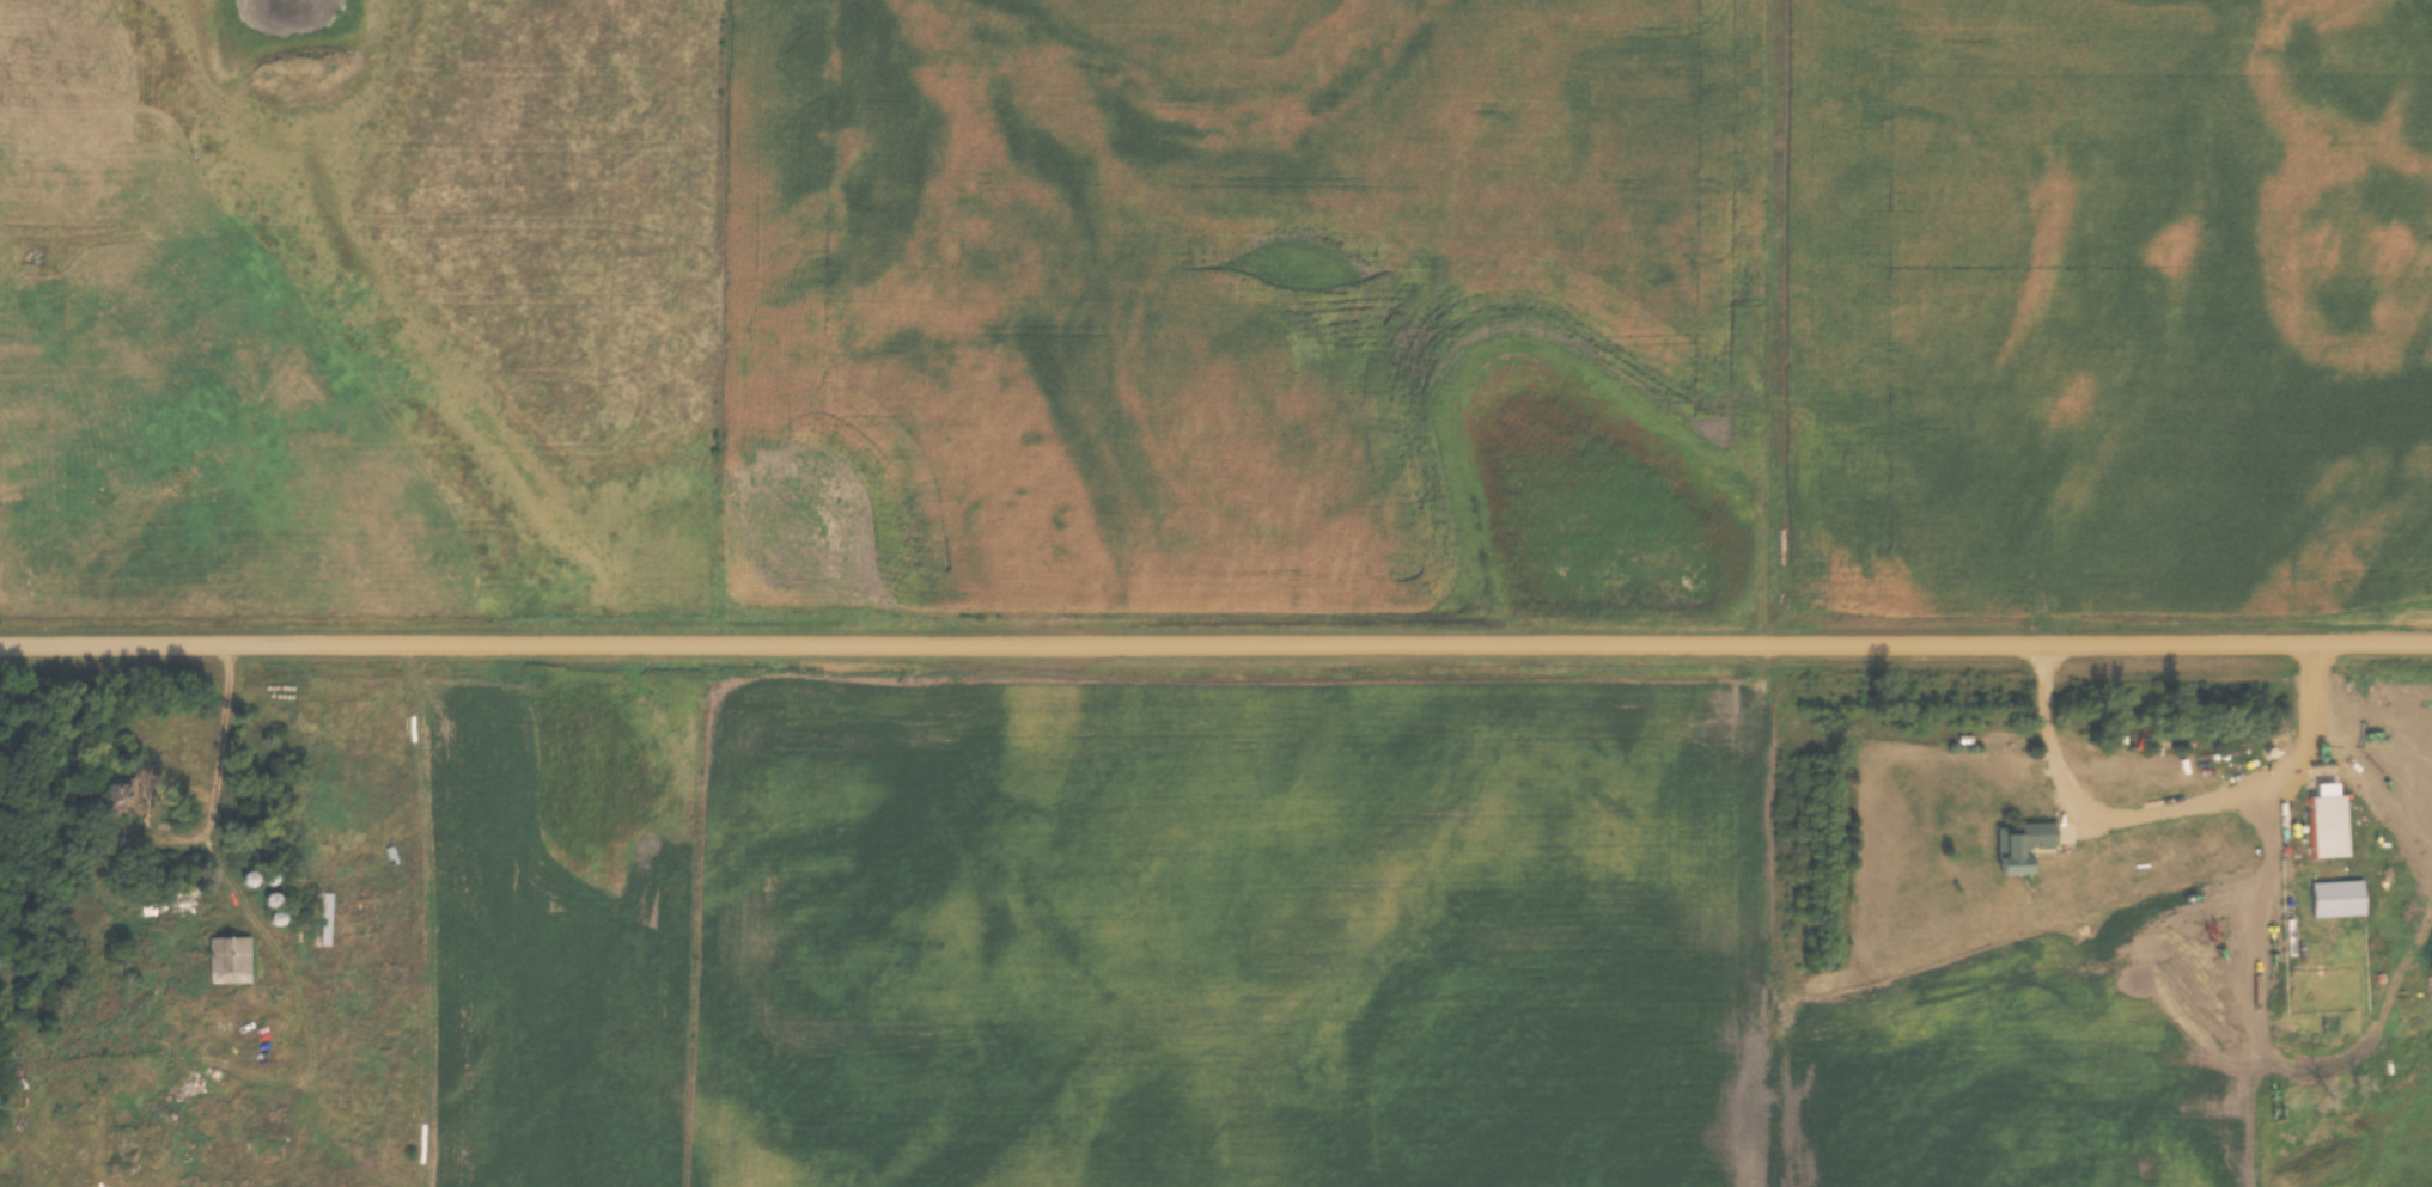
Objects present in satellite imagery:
road: (1215, 643)
road: (2171, 810)
building: (2324, 822)
building: (2018, 844)
building: (2330, 899)
building: (169, 904)
building: (231, 961)

